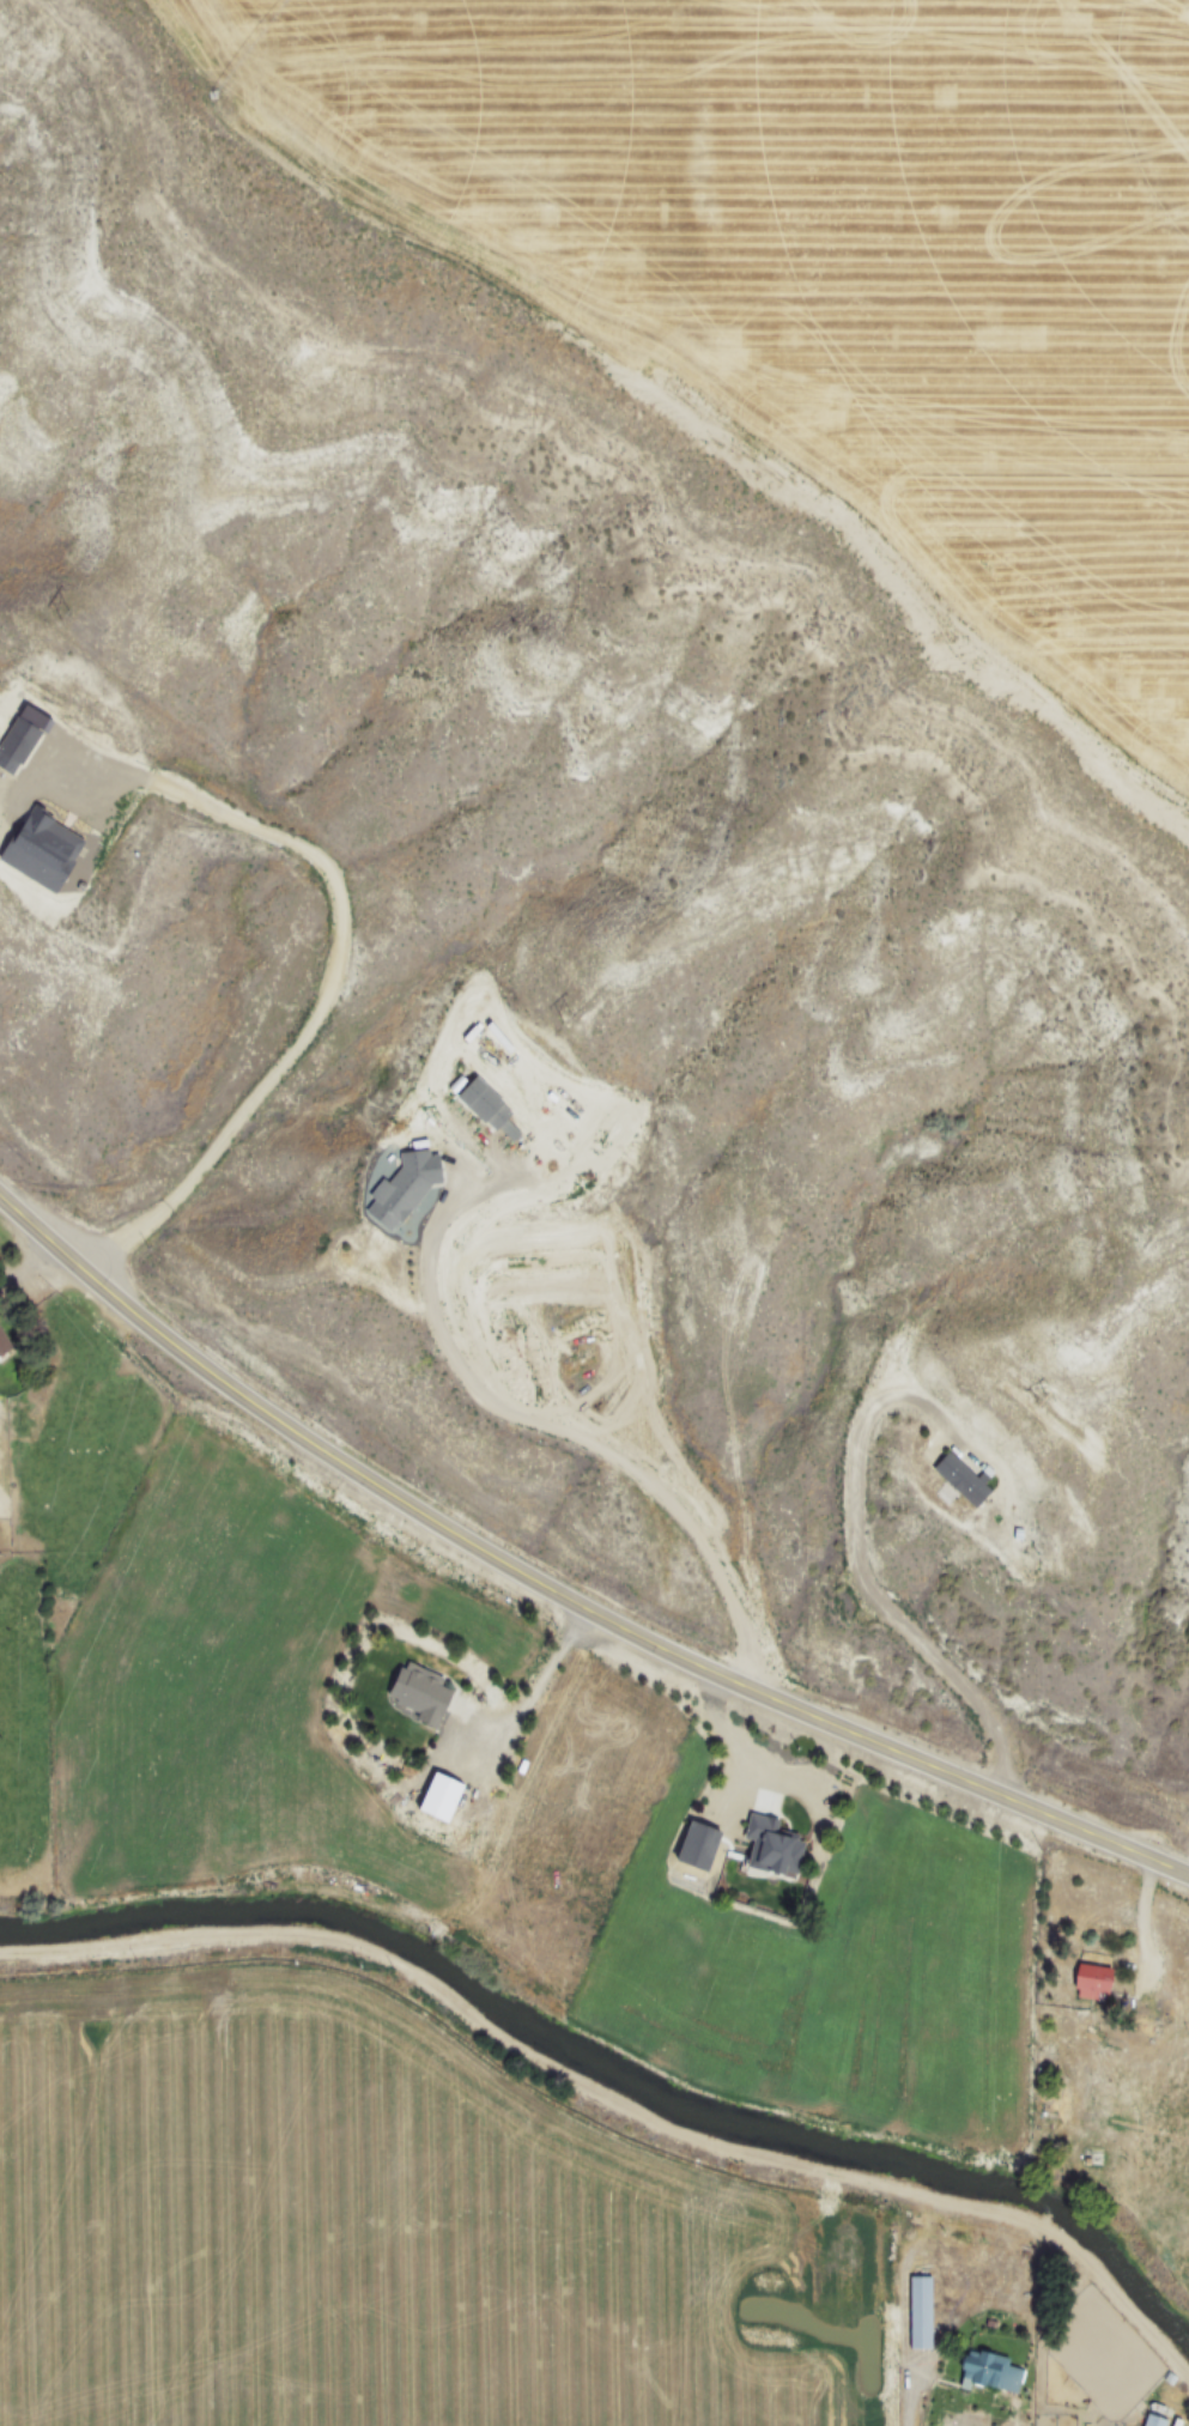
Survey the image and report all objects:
building: (18, 742)
building: (46, 848)
road: (329, 982)
building: (485, 1110)
building: (396, 1189)
building: (4, 1345)
road: (593, 1443)
building: (956, 1481)
road: (859, 1555)
road: (563, 1595)
building: (420, 1691)
road: (532, 1702)
building: (444, 1795)
building: (702, 1844)
building: (775, 1844)
road: (1149, 1936)
building: (1086, 1982)
road: (612, 2103)
building: (915, 2312)
building: (979, 2369)
road: (906, 2402)
road: (1110, 2414)
building: (1148, 2420)

